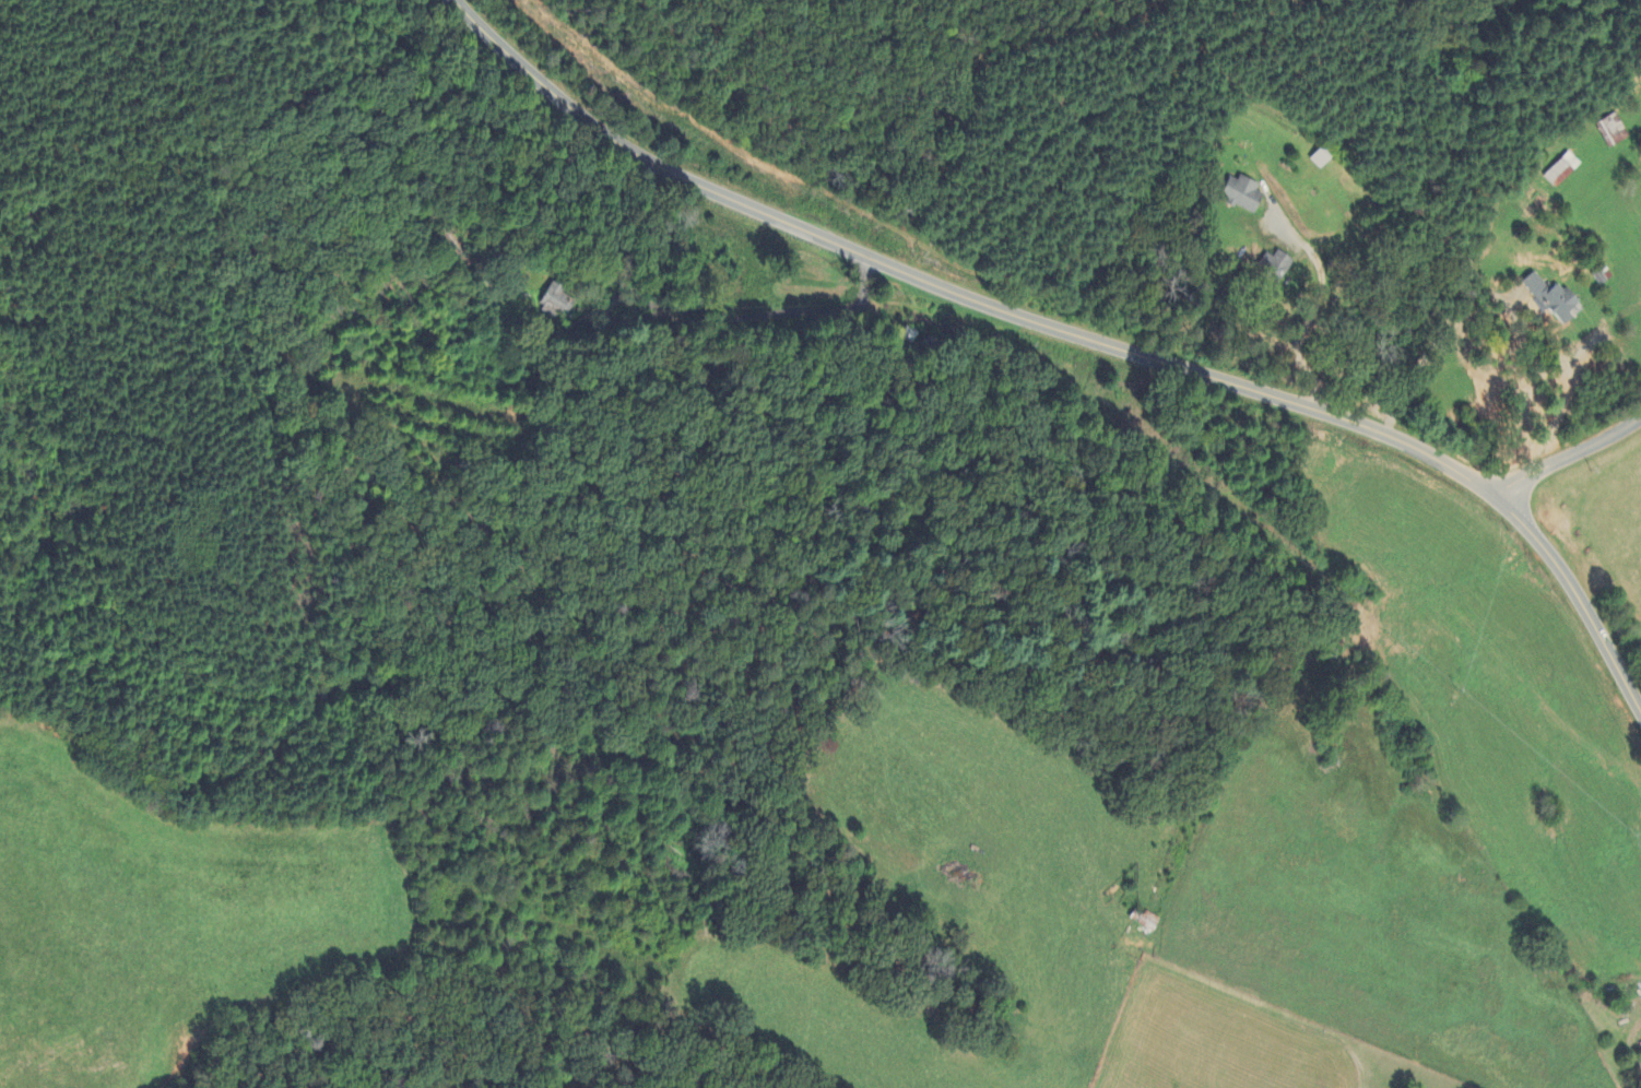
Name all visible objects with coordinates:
building: (1612, 131)
building: (1319, 159)
building: (1560, 172)
building: (1241, 196)
building: (1271, 268)
building: (1550, 300)
building: (556, 303)
road: (1613, 318)
road: (1074, 334)
road: (1571, 457)
building: (1640, 1046)

